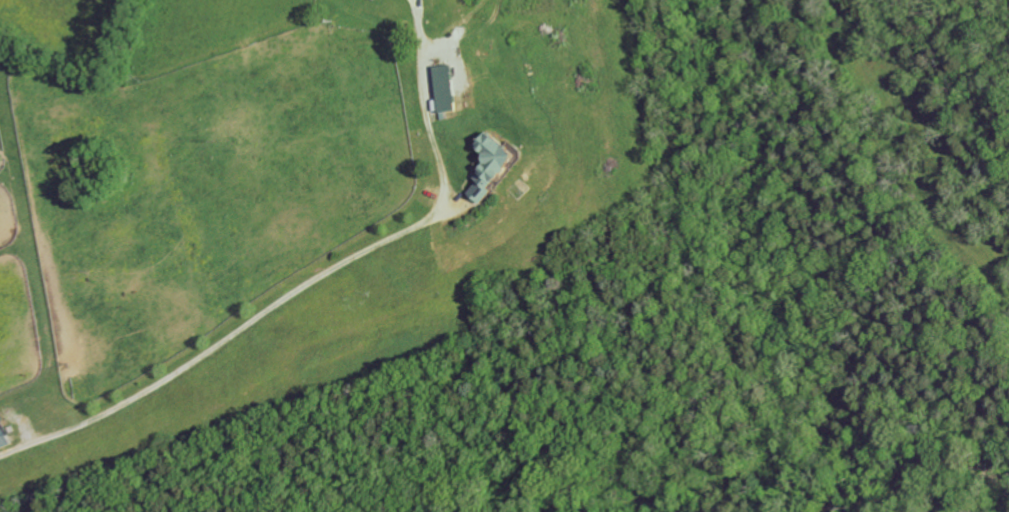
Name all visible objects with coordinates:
building: (448, 89)
building: (495, 166)
road: (315, 280)
building: (4, 427)

